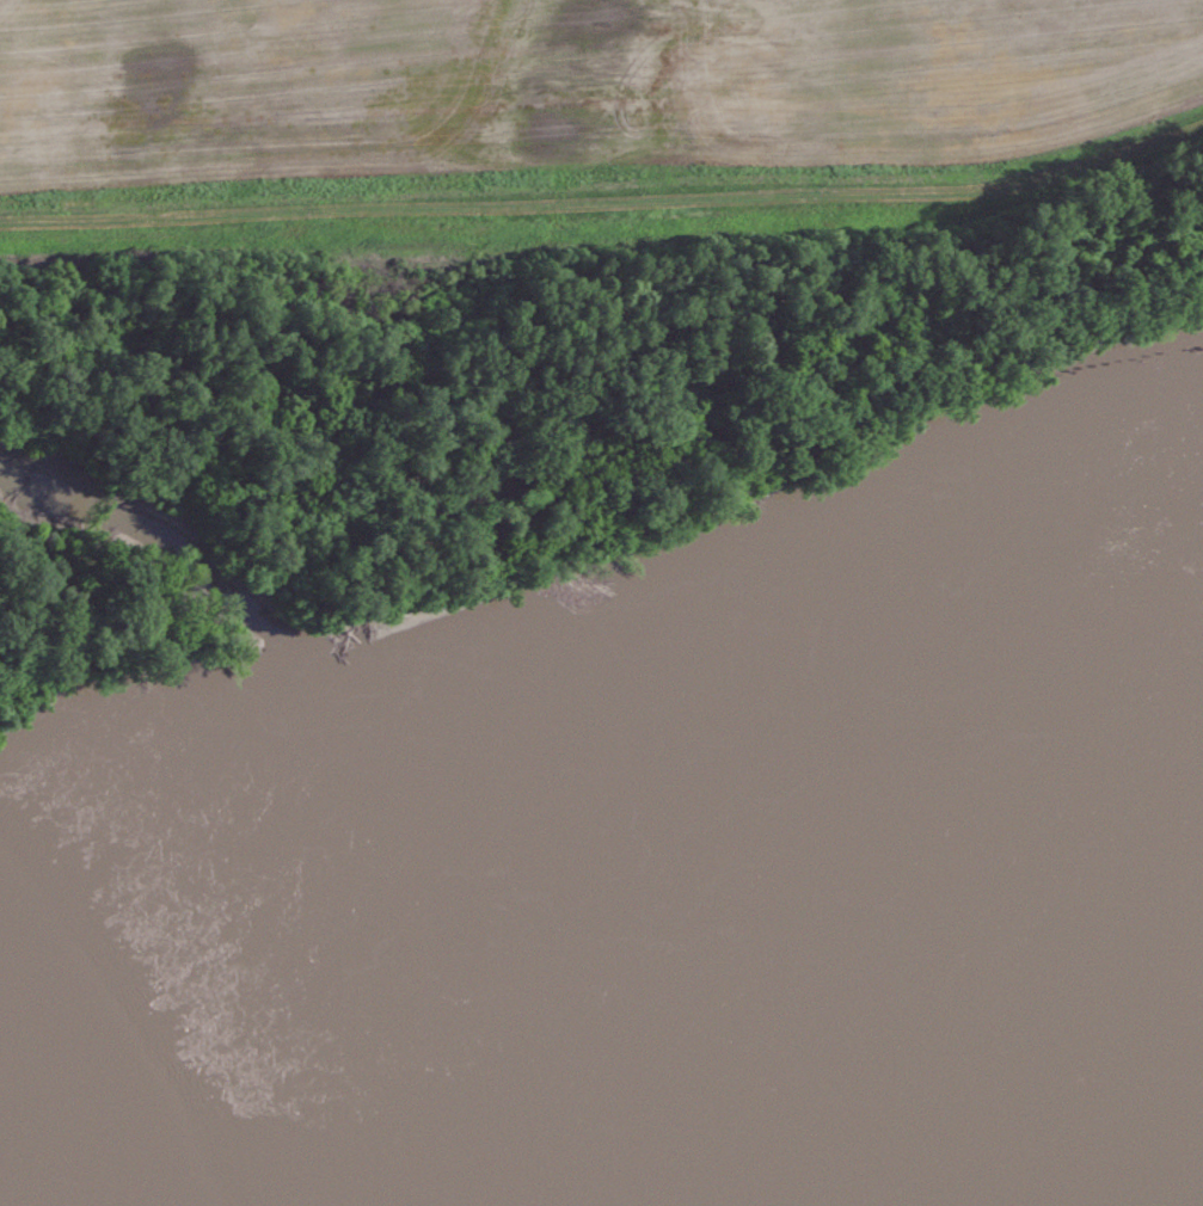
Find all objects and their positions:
river: (983, 1108)

